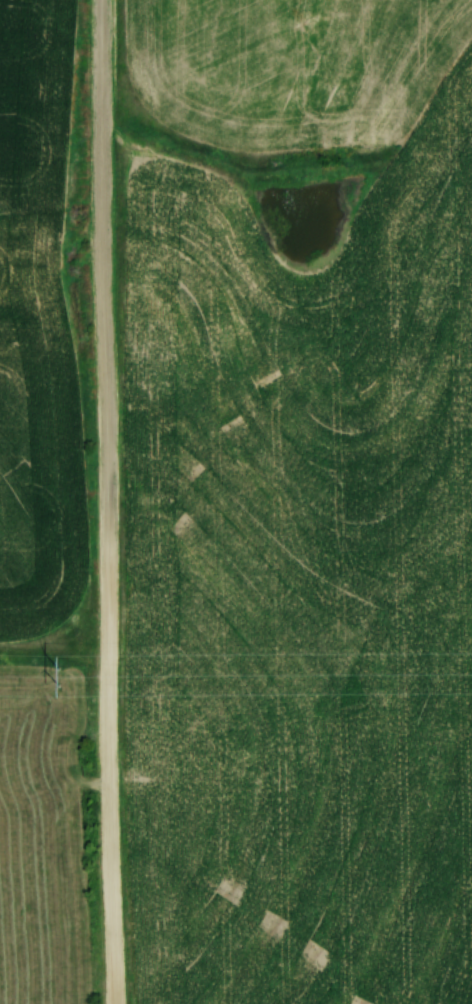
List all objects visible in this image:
road: (108, 502)
power tower: (59, 674)

